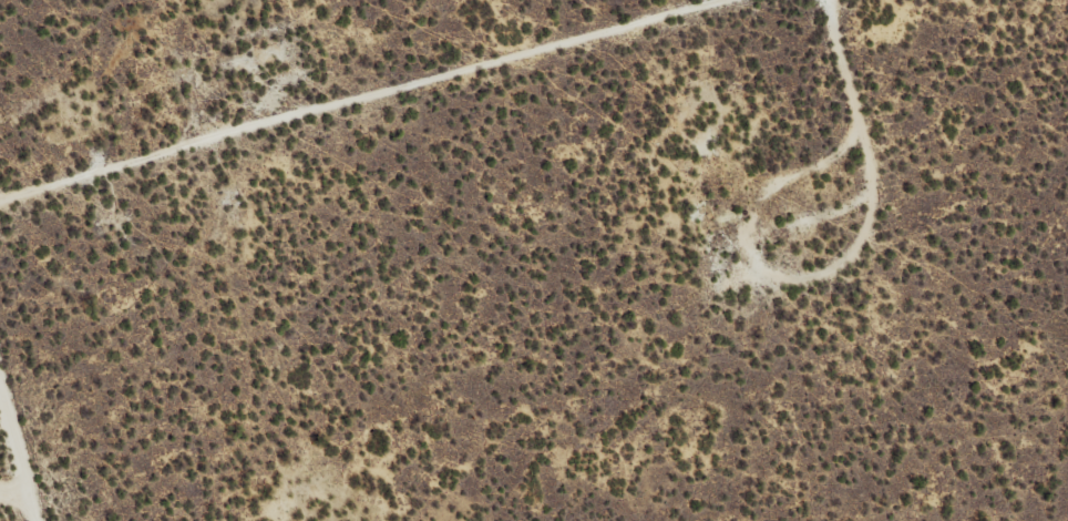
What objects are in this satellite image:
road: (28, 413)

